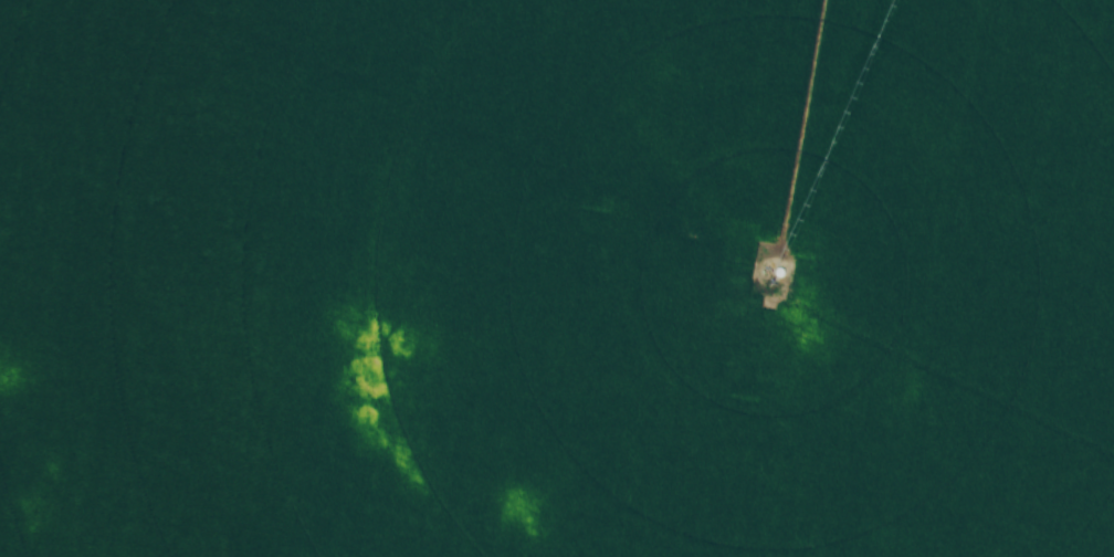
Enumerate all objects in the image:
crop: (557, 278)

